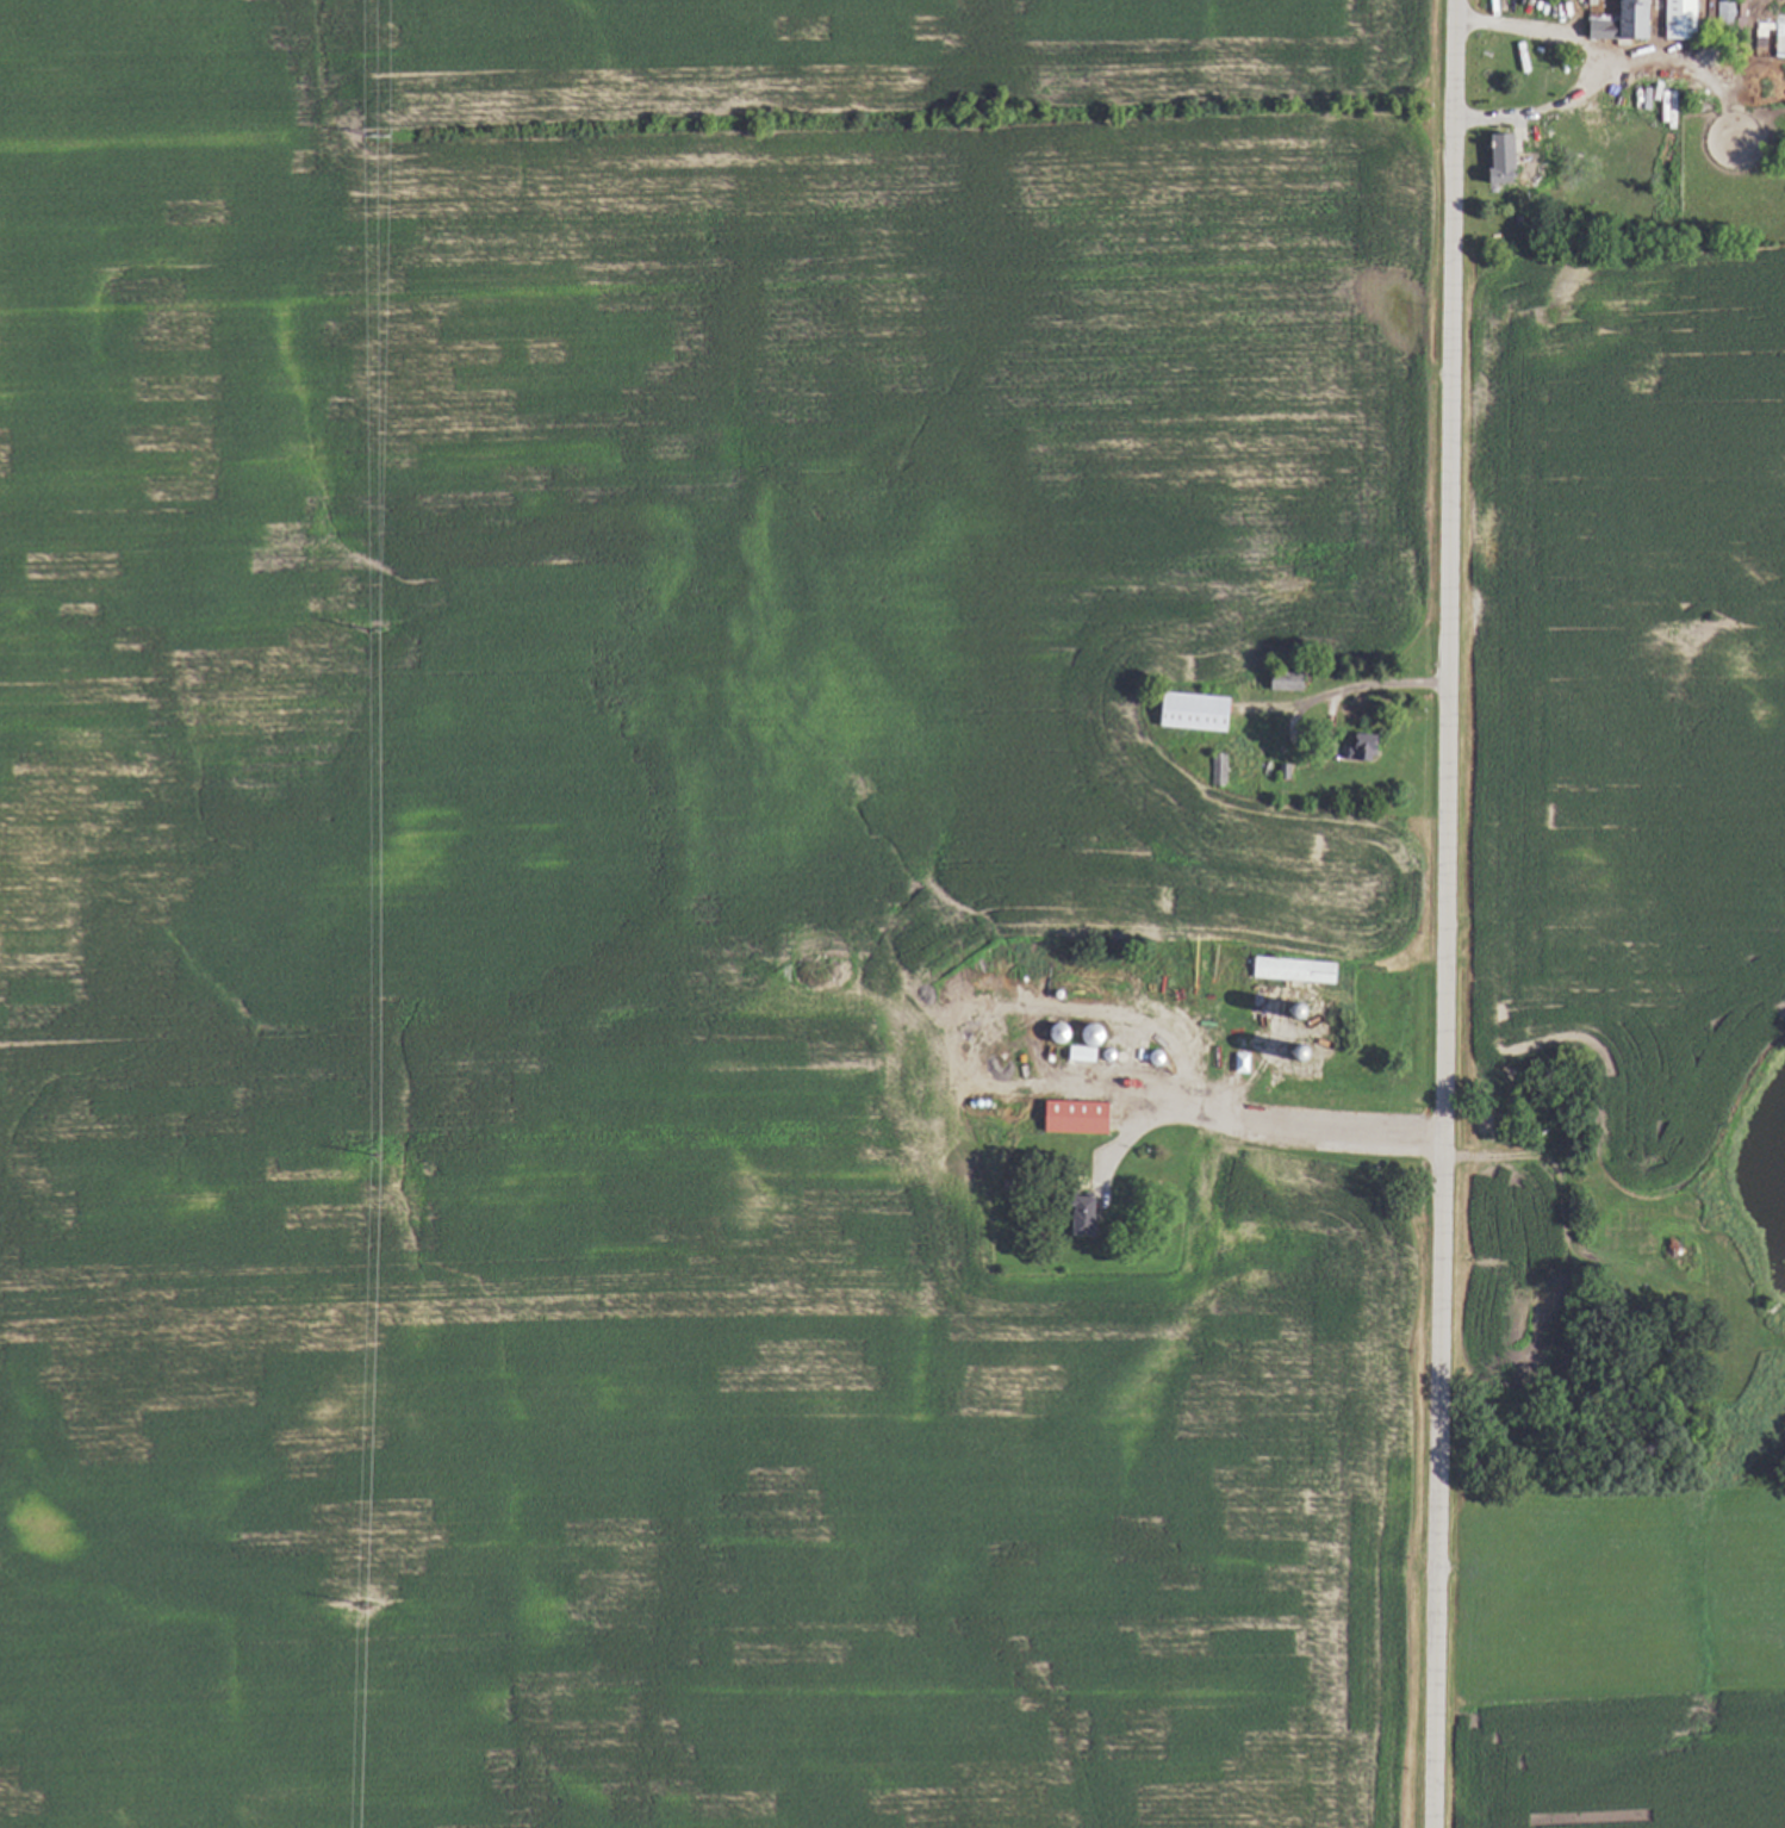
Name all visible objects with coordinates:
building: (1674, 18)
building: (1615, 20)
building: (1777, 36)
road: (1588, 73)
building: (1493, 157)
road: (1305, 702)
building: (1184, 710)
building: (1357, 745)
building: (1217, 769)
crop: (871, 902)
road: (1444, 914)
building: (1290, 969)
building: (1069, 1115)
road: (1290, 1125)
building: (1070, 1213)

